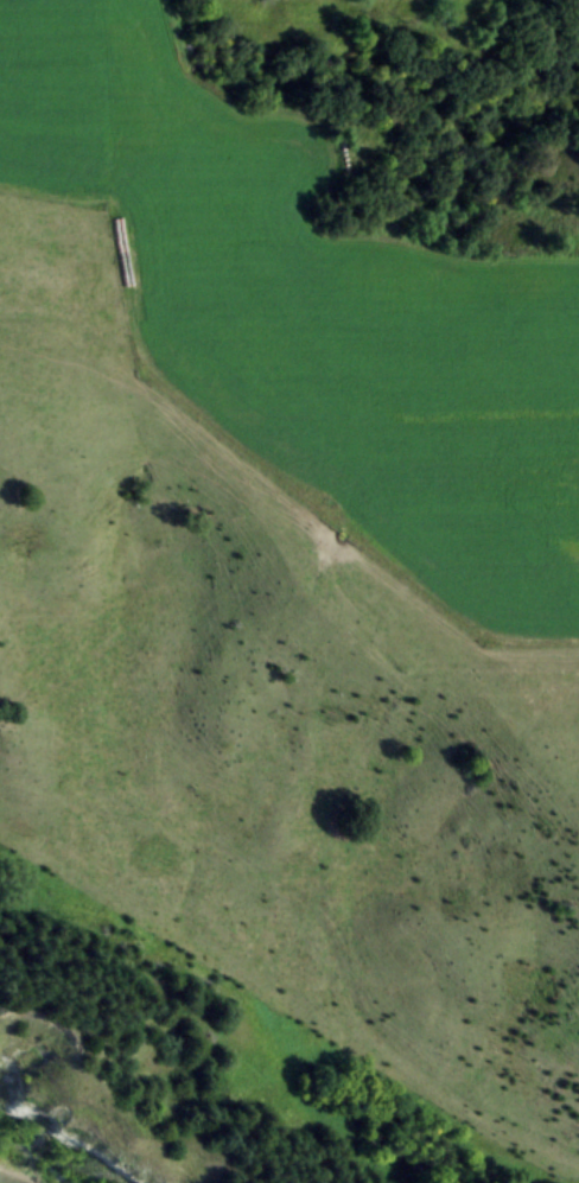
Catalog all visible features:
road: (293, 993)

